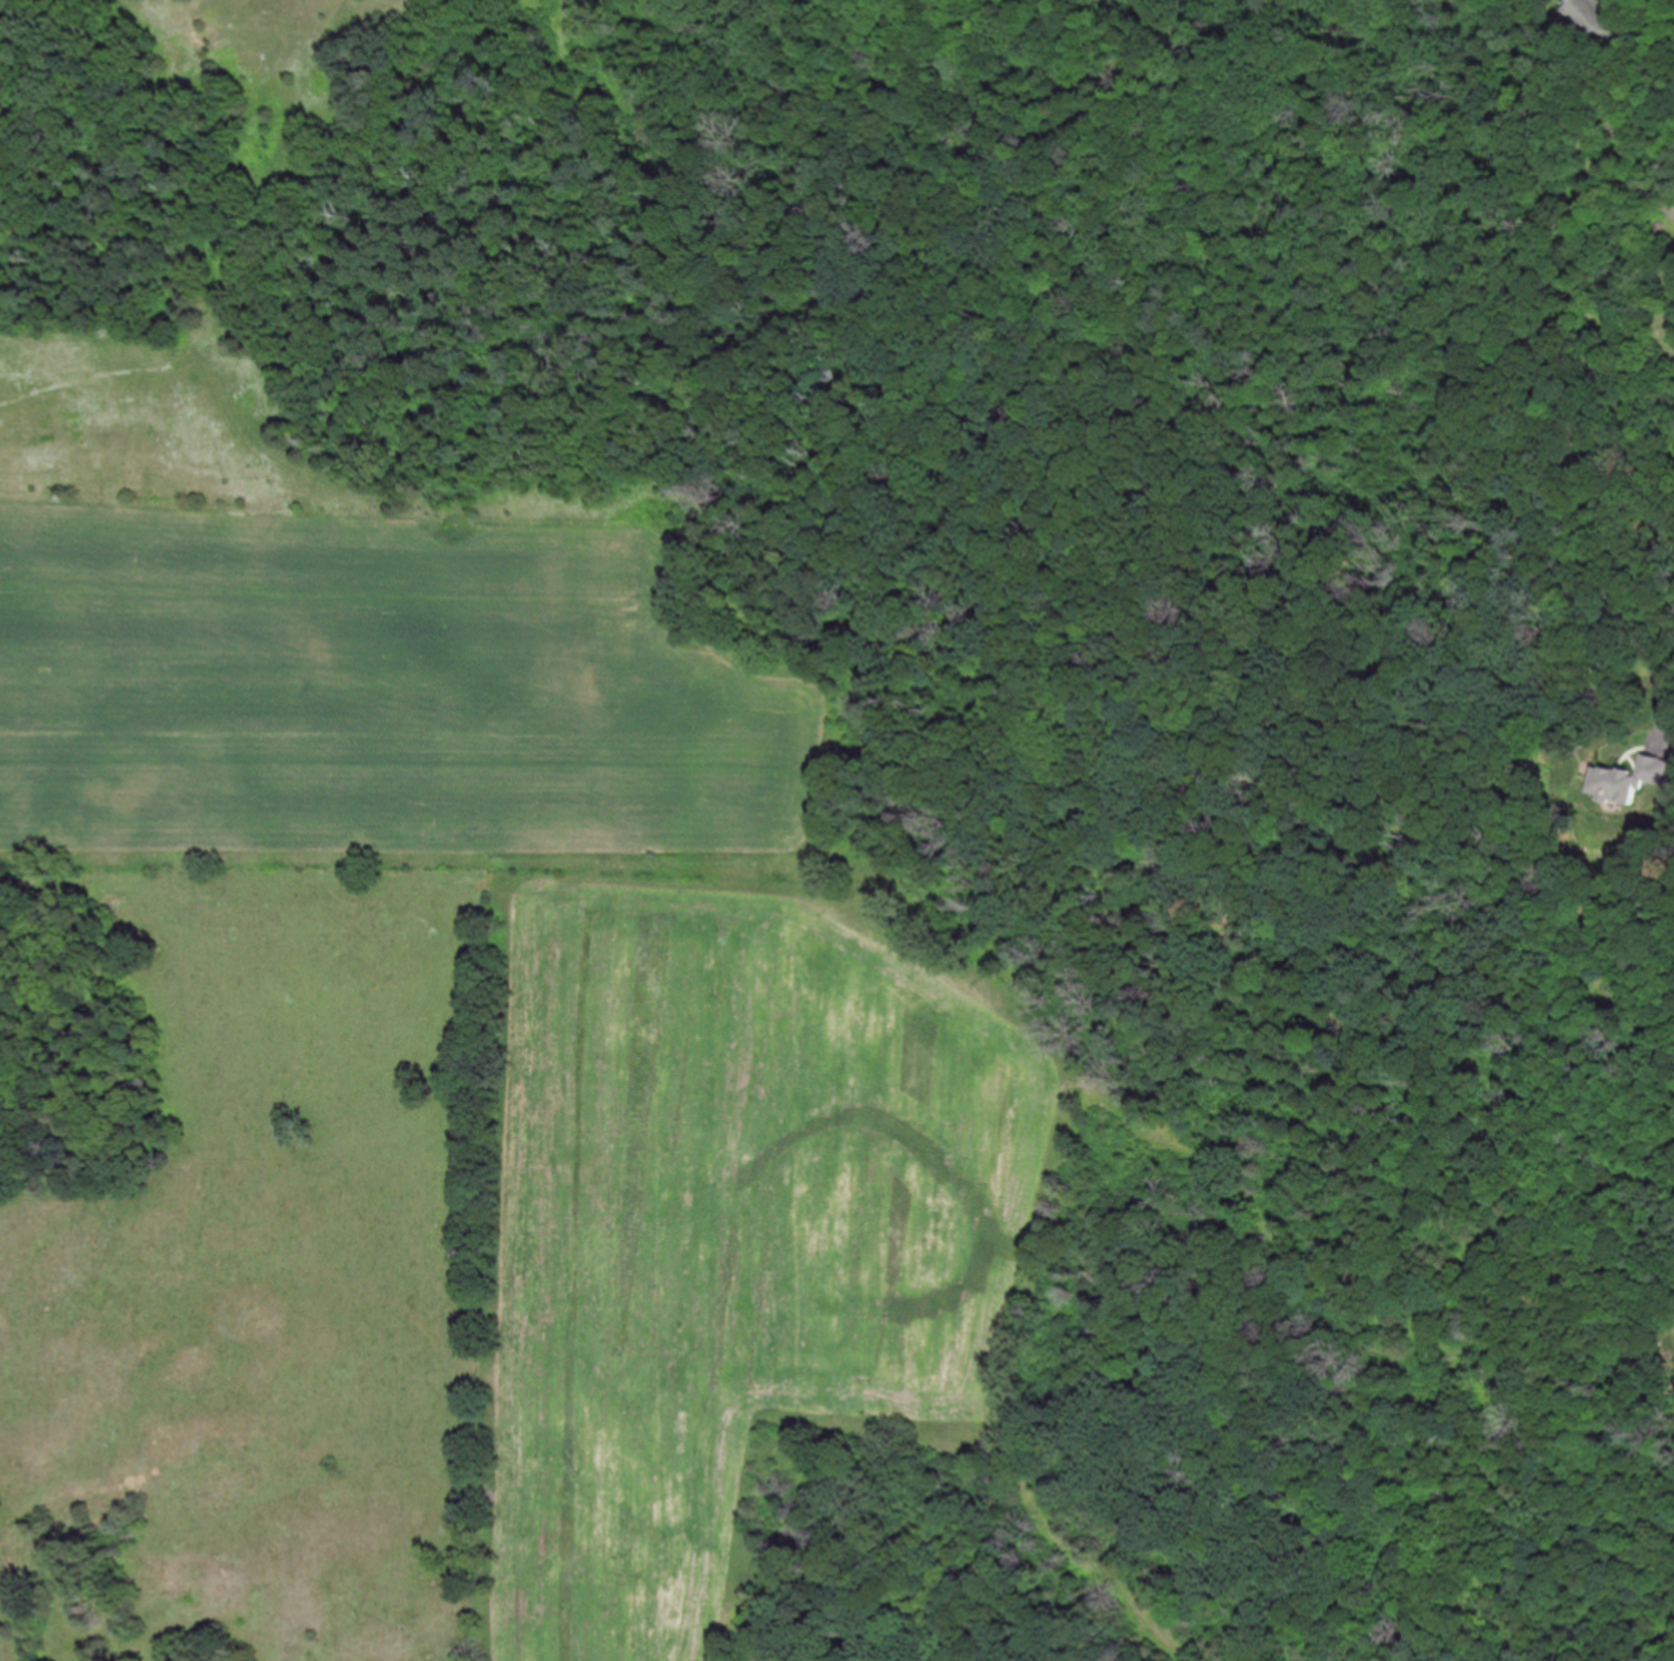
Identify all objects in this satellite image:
building: (1592, 15)
road: (1629, 156)
road: (1666, 296)
road: (1658, 703)
building: (1629, 779)

